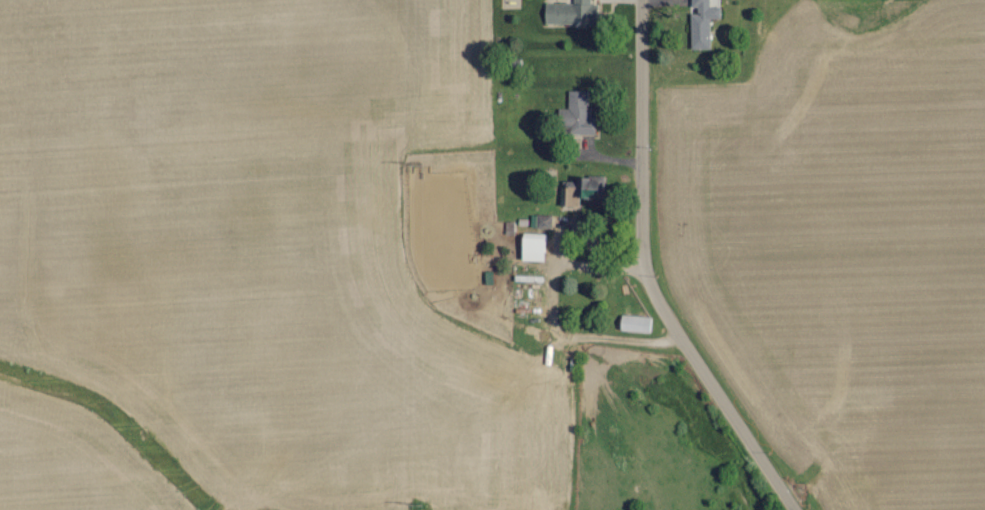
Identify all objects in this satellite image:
building: (577, 12)
building: (705, 22)
building: (583, 113)
power tower: (421, 163)
building: (585, 189)
building: (546, 221)
building: (509, 227)
building: (536, 247)
road: (648, 276)
building: (534, 288)
building: (639, 324)

